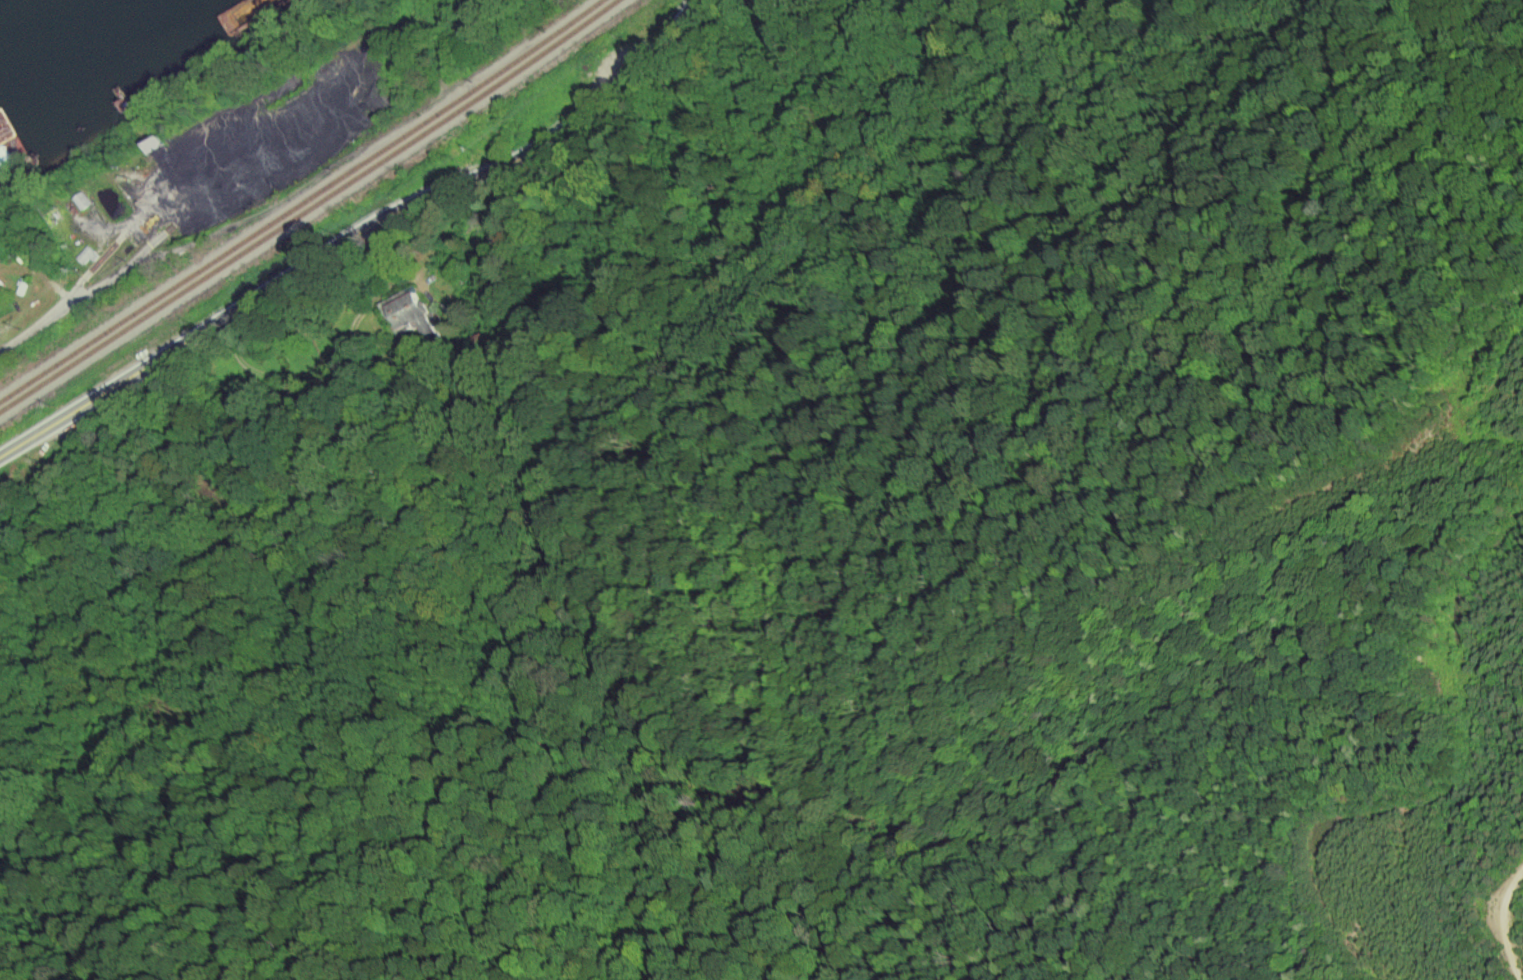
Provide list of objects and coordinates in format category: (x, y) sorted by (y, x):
railway: (301, 201)
railway: (308, 207)
road: (364, 227)
building: (410, 315)
road: (48, 322)

